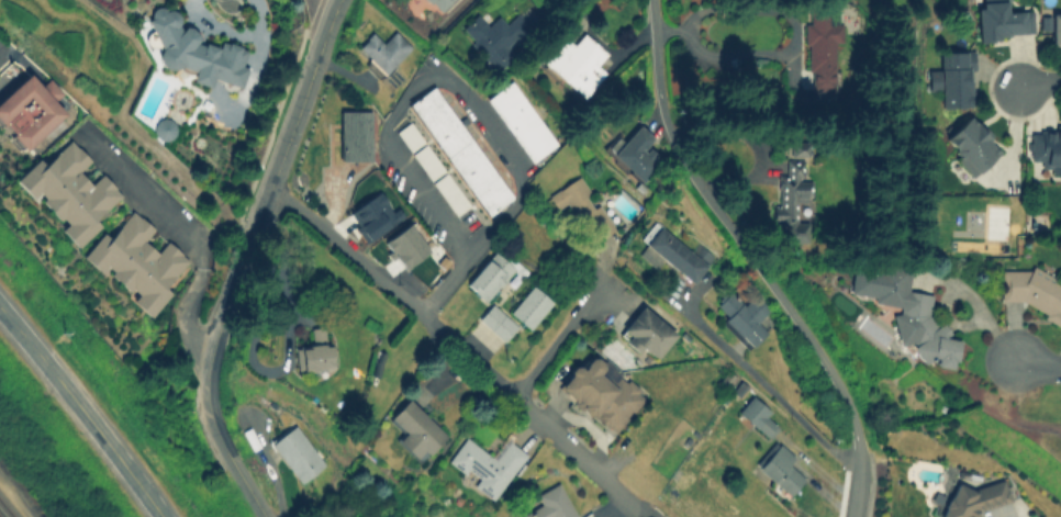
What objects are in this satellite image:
road: (336, 0)
building: (439, 3)
road: (540, 9)
building: (1001, 20)
building: (1054, 29)
building: (495, 36)
road: (788, 46)
building: (820, 46)
building: (382, 48)
building: (193, 49)
building: (574, 61)
building: (951, 78)
road: (1039, 81)
road: (406, 93)
building: (29, 108)
building: (520, 120)
building: (163, 130)
building: (353, 134)
building: (969, 144)
building: (1045, 147)
building: (459, 149)
building: (630, 150)
building: (432, 167)
road: (271, 181)
building: (67, 190)
building: (791, 198)
building: (581, 207)
building: (372, 216)
road: (733, 228)
road: (191, 236)
building: (404, 247)
road: (346, 248)
building: (669, 251)
building: (134, 260)
building: (488, 274)
building: (1031, 290)
building: (528, 305)
building: (740, 316)
building: (913, 316)
building: (496, 322)
power tower: (62, 331)
building: (645, 331)
road: (558, 335)
building: (313, 352)
road: (1041, 364)
building: (600, 392)
road: (763, 395)
road: (82, 409)
road: (535, 414)
building: (756, 414)
building: (415, 428)
road: (224, 445)
building: (295, 452)
building: (487, 464)
building: (779, 469)
road: (857, 480)
building: (973, 499)
building: (550, 503)
railway: (5, 509)

